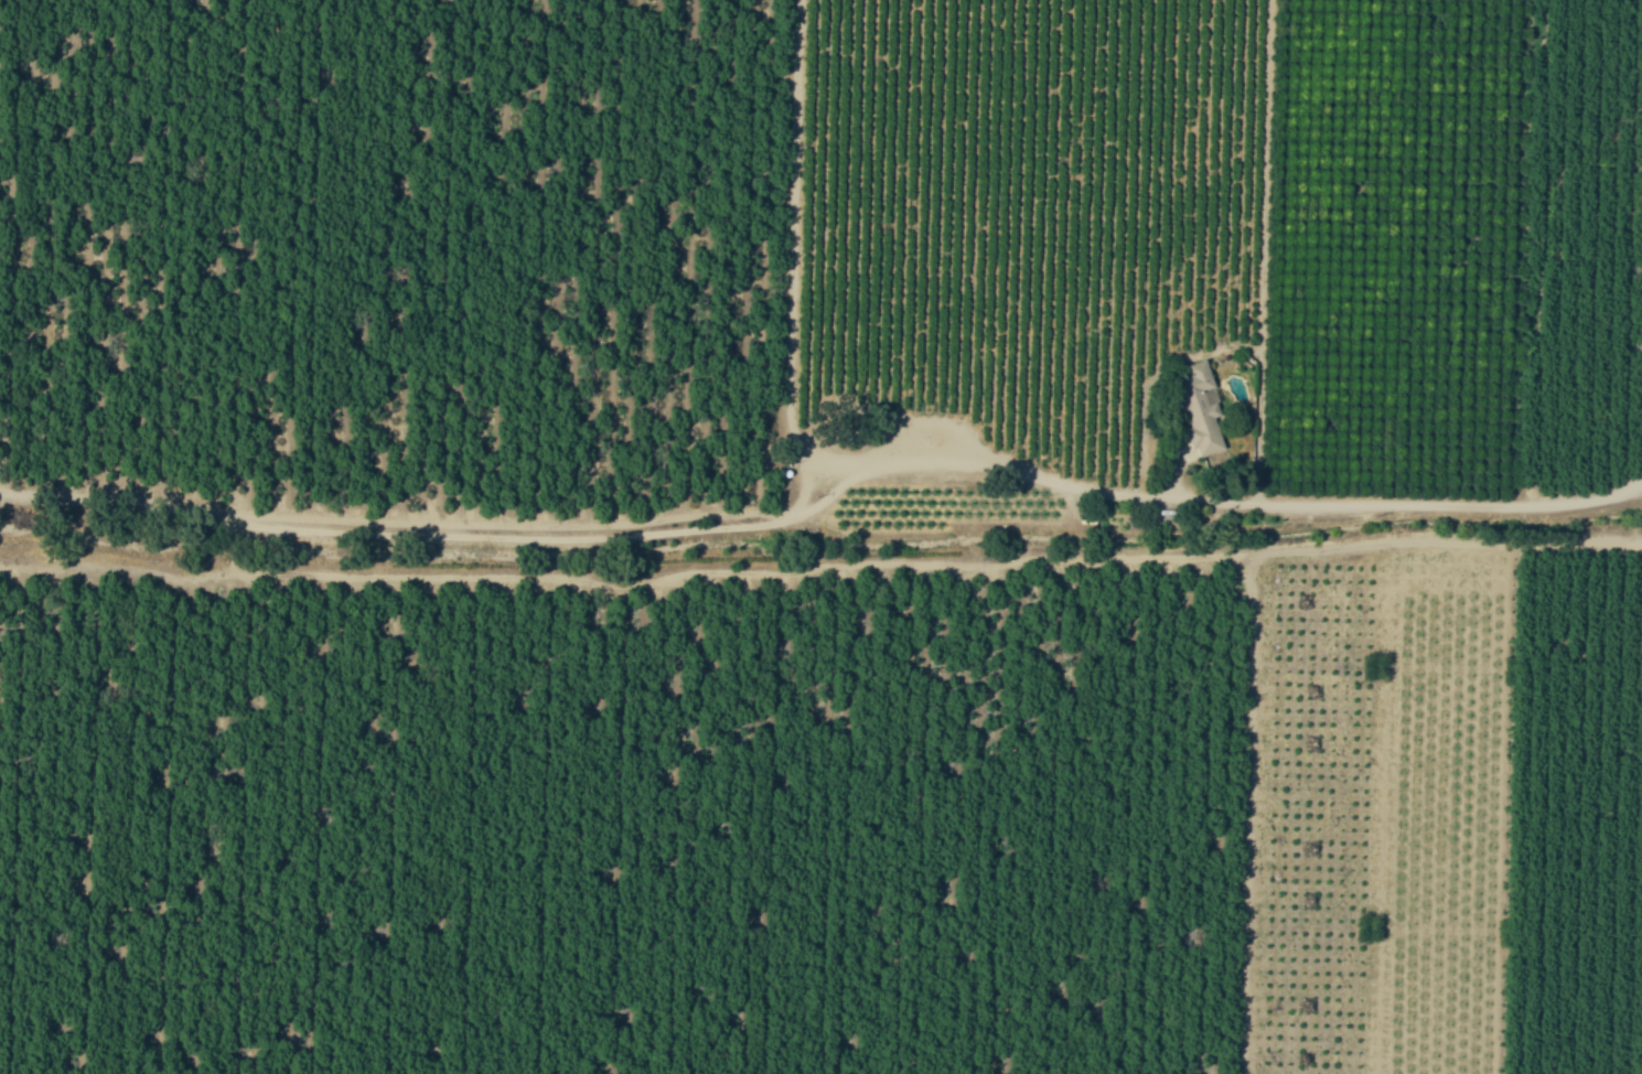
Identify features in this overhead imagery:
building: (1200, 411)
road: (1430, 507)

